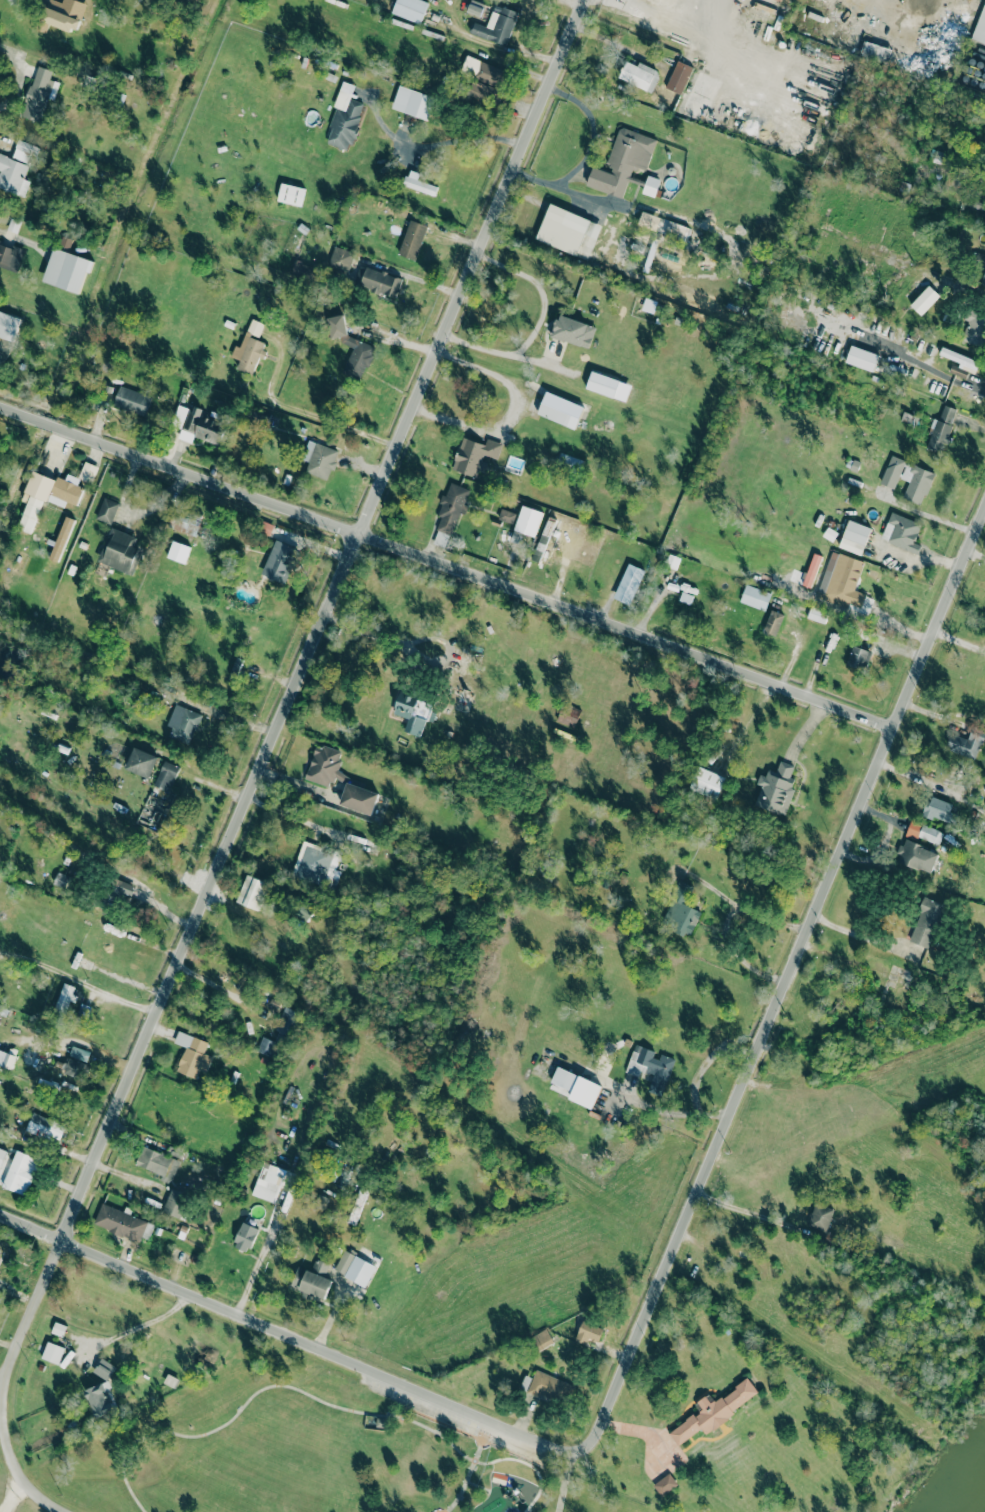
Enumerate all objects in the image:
building: (474, 7)
building: (410, 9)
building: (59, 19)
building: (495, 25)
building: (981, 29)
building: (483, 71)
building: (639, 75)
building: (679, 77)
building: (480, 91)
building: (39, 92)
building: (412, 102)
building: (343, 118)
building: (24, 151)
building: (622, 161)
building: (13, 175)
building: (418, 183)
building: (650, 185)
road: (574, 191)
building: (290, 194)
building: (567, 230)
building: (412, 239)
road: (32, 249)
building: (10, 255)
building: (340, 259)
road: (911, 266)
building: (66, 269)
building: (380, 282)
building: (924, 299)
building: (974, 324)
building: (8, 325)
building: (573, 331)
building: (351, 346)
building: (249, 347)
road: (506, 353)
building: (861, 358)
building: (959, 359)
building: (602, 383)
building: (132, 400)
road: (510, 414)
road: (314, 415)
building: (557, 415)
building: (200, 427)
building: (940, 429)
building: (474, 455)
building: (319, 459)
building: (892, 471)
building: (916, 482)
building: (51, 492)
building: (451, 507)
building: (106, 510)
building: (506, 515)
road: (929, 515)
building: (527, 520)
building: (190, 526)
building: (901, 532)
building: (854, 537)
building: (61, 538)
building: (440, 538)
building: (119, 550)
building: (278, 561)
road: (447, 563)
building: (811, 570)
building: (841, 578)
building: (632, 585)
building: (687, 594)
building: (754, 596)
road: (668, 599)
building: (817, 614)
road: (878, 615)
building: (772, 623)
road: (958, 640)
road: (393, 641)
building: (858, 657)
building: (235, 667)
road: (291, 691)
road: (215, 710)
building: (412, 712)
building: (568, 715)
building: (182, 723)
building: (966, 743)
building: (141, 762)
building: (324, 765)
building: (166, 775)
road: (908, 776)
building: (707, 782)
road: (297, 783)
building: (775, 789)
building: (359, 798)
building: (938, 808)
building: (924, 832)
building: (917, 856)
building: (315, 864)
road: (713, 888)
building: (251, 892)
building: (680, 911)
road: (726, 918)
building: (926, 922)
road: (855, 934)
road: (61, 974)
road: (786, 975)
road: (218, 985)
building: (65, 995)
building: (275, 1037)
building: (79, 1053)
building: (192, 1055)
building: (6, 1057)
building: (649, 1064)
building: (74, 1068)
building: (576, 1086)
road: (673, 1112)
building: (45, 1128)
building: (153, 1161)
building: (21, 1173)
building: (268, 1181)
building: (175, 1203)
road: (747, 1211)
building: (821, 1218)
building: (120, 1222)
building: (246, 1236)
building: (2, 1251)
building: (354, 1268)
road: (253, 1269)
building: (310, 1279)
road: (137, 1327)
building: (58, 1328)
building: (590, 1332)
road: (293, 1339)
building: (541, 1340)
building: (52, 1352)
building: (545, 1384)
building: (99, 1399)
road: (316, 1399)
parking lot: (421, 1403)
road: (407, 1404)
building: (715, 1413)
road: (476, 1437)
parking lot: (522, 1447)
park: (295, 1450)
road: (470, 1469)
road: (14, 1473)
road: (563, 1481)
building: (664, 1484)
road: (477, 1486)

